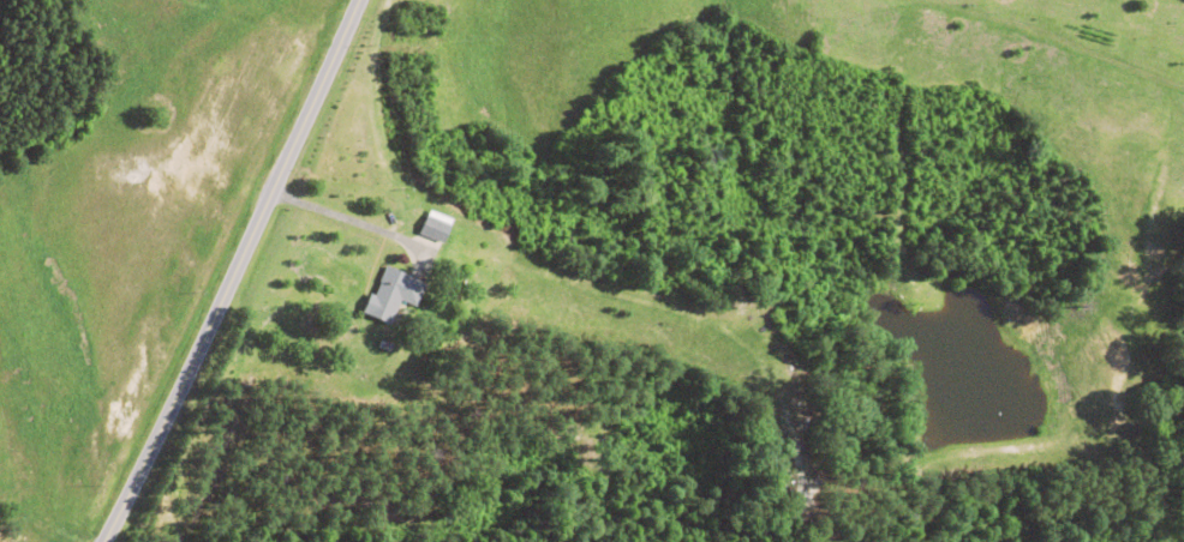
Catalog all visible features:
building: (429, 228)
road: (243, 276)
building: (389, 294)
road: (72, 458)

